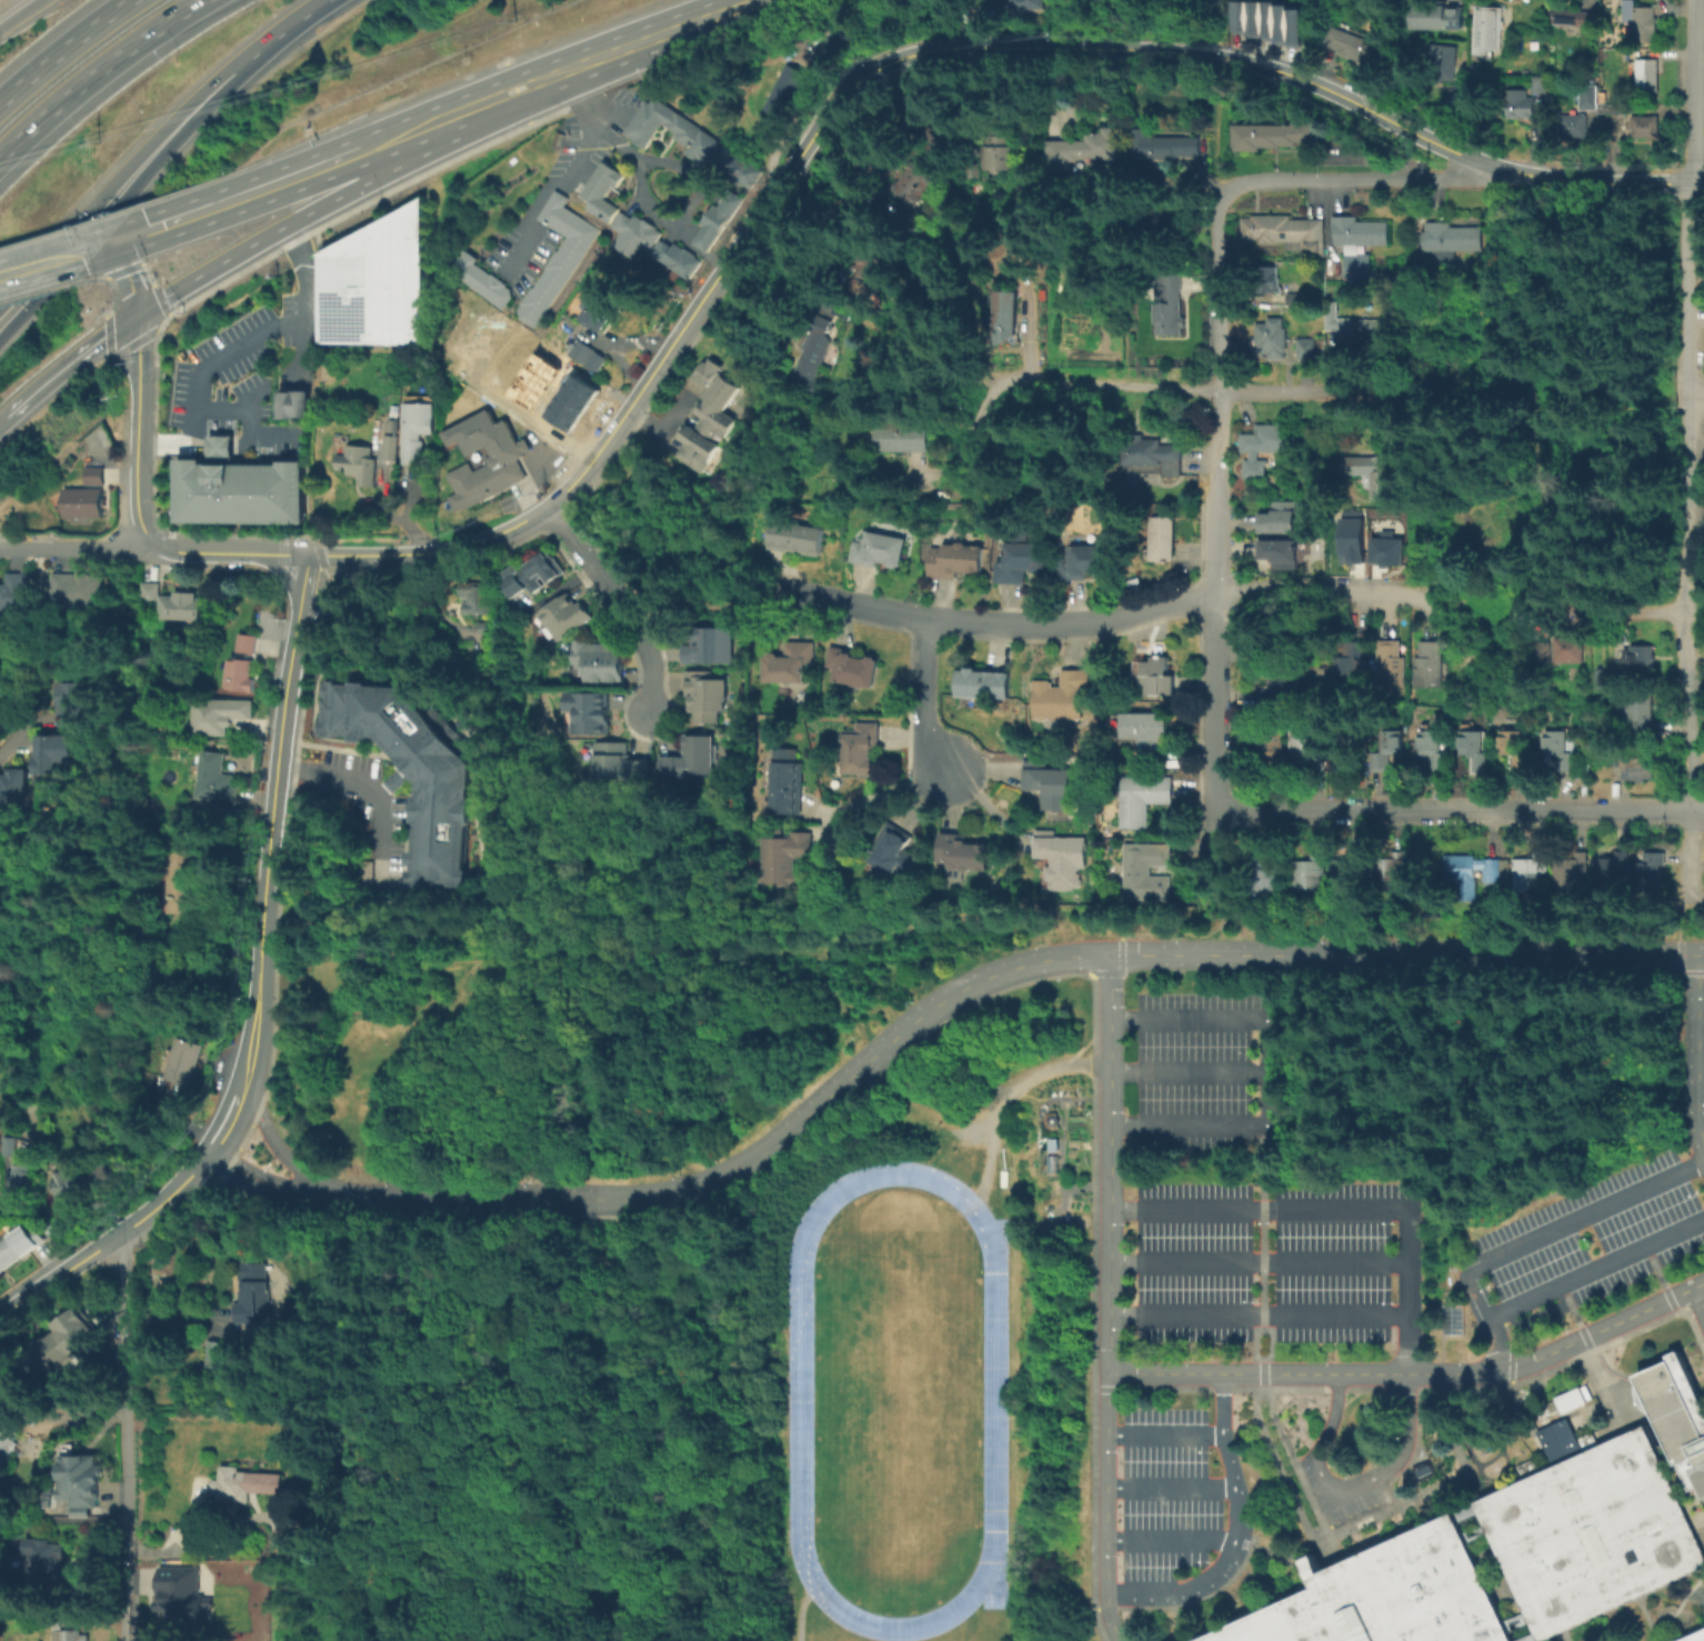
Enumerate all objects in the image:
building: (1028, 4)
road: (21, 14)
building: (1436, 14)
building: (1568, 16)
building: (1270, 20)
building: (1637, 20)
road: (294, 26)
building: (1486, 28)
road: (666, 33)
building: (841, 39)
building: (1350, 43)
road: (64, 50)
road: (1173, 52)
building: (1440, 61)
road: (98, 73)
building: (1644, 76)
building: (1536, 82)
building: (785, 87)
road: (1690, 91)
building: (1585, 96)
building: (1517, 103)
road: (481, 104)
building: (1608, 108)
building: (1571, 123)
building: (1642, 126)
building: (670, 129)
building: (942, 133)
building: (1277, 138)
building: (1086, 148)
building: (1172, 148)
building: (1001, 151)
building: (735, 167)
road: (123, 172)
road: (1355, 178)
road: (567, 180)
building: (918, 182)
building: (599, 190)
road: (254, 193)
road: (713, 194)
road: (128, 196)
road: (1616, 209)
building: (715, 220)
building: (632, 232)
building: (1291, 233)
road: (269, 237)
building: (1453, 241)
traffic signals: (118, 242)
building: (1363, 243)
road: (1601, 246)
building: (1020, 248)
road: (701, 253)
building: (554, 257)
building: (674, 257)
road: (59, 260)
building: (872, 261)
building: (480, 279)
road: (129, 280)
building: (373, 281)
building: (1272, 282)
road: (1688, 290)
road: (1224, 291)
building: (595, 307)
building: (1173, 308)
traffic signals: (137, 319)
building: (1012, 319)
building: (1353, 326)
road: (122, 328)
road: (1565, 329)
building: (1273, 340)
road: (238, 344)
building: (513, 346)
building: (1307, 349)
building: (585, 354)
building: (812, 354)
building: (503, 360)
building: (544, 367)
road: (56, 374)
building: (494, 374)
building: (535, 381)
building: (715, 381)
building: (580, 388)
road: (265, 389)
road: (1192, 390)
building: (527, 396)
road: (1556, 399)
road: (1696, 399)
building: (301, 402)
building: (571, 402)
building: (284, 404)
park: (1547, 404)
road: (624, 413)
building: (562, 417)
building: (712, 419)
road: (3, 421)
road: (541, 422)
road: (664, 423)
building: (392, 424)
building: (415, 426)
road: (980, 428)
road: (138, 431)
road: (258, 436)
road: (1220, 436)
road: (240, 440)
building: (905, 441)
road: (196, 443)
building: (390, 446)
road: (219, 447)
building: (694, 448)
building: (1266, 449)
building: (1152, 458)
building: (501, 459)
building: (359, 462)
building: (1373, 472)
building: (92, 474)
building: (238, 486)
building: (81, 501)
road: (1544, 516)
building: (1279, 521)
building: (1350, 539)
building: (796, 541)
building: (1162, 541)
road: (467, 544)
road: (76, 546)
building: (1384, 548)
building: (880, 551)
road: (201, 553)
road: (403, 554)
road: (281, 556)
road: (313, 557)
road: (348, 557)
building: (1280, 557)
building: (954, 562)
building: (1021, 563)
building: (1085, 563)
road: (325, 572)
road: (282, 573)
building: (532, 576)
road: (304, 580)
road: (333, 586)
building: (74, 589)
building: (147, 591)
road: (1326, 593)
building: (12, 594)
building: (478, 598)
road: (618, 602)
road: (694, 602)
building: (170, 604)
road: (1685, 604)
building: (192, 606)
road: (299, 612)
road: (1645, 612)
building: (565, 619)
road: (989, 626)
building: (484, 630)
building: (242, 643)
road: (1216, 644)
building: (1279, 646)
building: (709, 647)
building: (1572, 650)
building: (1543, 657)
building: (1636, 657)
building: (599, 663)
building: (789, 664)
building: (1392, 664)
building: (1351, 666)
building: (1429, 666)
building: (853, 670)
building: (241, 674)
building: (1155, 678)
building: (1602, 679)
building: (983, 686)
building: (1280, 691)
building: (1063, 697)
building: (706, 699)
road: (925, 700)
building: (71, 701)
building: (221, 713)
building: (1643, 713)
building: (589, 714)
road: (18, 731)
building: (1144, 736)
road: (281, 739)
building: (1306, 744)
building: (1437, 747)
building: (862, 748)
building: (51, 750)
building: (1479, 750)
building: (1560, 750)
building: (1516, 752)
building: (1391, 754)
building: (1270, 756)
building: (692, 761)
building: (620, 766)
building: (410, 768)
building: (1635, 769)
building: (217, 781)
building: (788, 784)
building: (11, 786)
building: (1052, 787)
road: (368, 789)
road: (881, 793)
building: (1144, 801)
road: (1454, 811)
road: (1697, 811)
road: (1216, 835)
road: (1692, 853)
building: (892, 854)
building: (965, 855)
building: (785, 860)
building: (1064, 862)
building: (1533, 869)
building: (1493, 872)
building: (1571, 872)
building: (1392, 873)
building: (1147, 874)
building: (1610, 874)
building: (1651, 874)
building: (1463, 875)
building: (1266, 877)
building: (1307, 877)
building: (1347, 881)
building: (188, 885)
road: (1223, 907)
road: (1680, 917)
road: (1680, 948)
road: (1165, 957)
road: (1463, 957)
road: (261, 964)
road: (1701, 1028)
road: (1698, 1052)
building: (186, 1062)
road: (1189, 1071)
road: (1267, 1072)
road: (1701, 1080)
road: (243, 1081)
parking lot: (1199, 1088)
road: (1008, 1097)
road: (225, 1124)
road: (1702, 1134)
road: (1264, 1139)
building: (8, 1145)
road: (280, 1151)
road: (759, 1157)
building: (0, 1162)
building: (27, 1181)
building: (70, 1183)
road: (278, 1187)
road: (166, 1201)
road: (1340, 1209)
road: (1538, 1237)
parking lot: (1583, 1247)
building: (18, 1248)
road: (1260, 1263)
road: (1595, 1269)
parking lot: (1271, 1273)
road: (57, 1280)
building: (250, 1292)
road: (1111, 1299)
road: (1264, 1299)
road: (1697, 1305)
road: (174, 1312)
road: (1259, 1315)
building: (1451, 1318)
building: (67, 1342)
road: (1588, 1345)
building: (210, 1352)
road: (1612, 1368)
road: (1553, 1371)
road: (1263, 1373)
road: (1416, 1375)
road: (1512, 1378)
road: (1261, 1389)
road: (1534, 1392)
road: (1514, 1394)
building: (1571, 1398)
park: (898, 1399)
road: (1222, 1405)
parking lot: (1164, 1408)
building: (1677, 1412)
track: (801, 1417)
building: (9, 1435)
road: (1165, 1437)
road: (1530, 1437)
road: (126, 1440)
road: (1412, 1459)
building: (81, 1483)
building: (1163, 1483)
building: (245, 1485)
road: (1349, 1491)
road: (1316, 1510)
road: (1302, 1517)
road: (1355, 1525)
building: (1169, 1528)
building: (1591, 1533)
building: (288, 1542)
building: (56, 1568)
building: (182, 1590)
building: (1386, 1595)
road: (1680, 1607)
road: (801, 1617)
road: (1647, 1618)
building: (73, 1628)
road: (1564, 1635)
building: (1694, 1637)
building: (1531, 1639)

